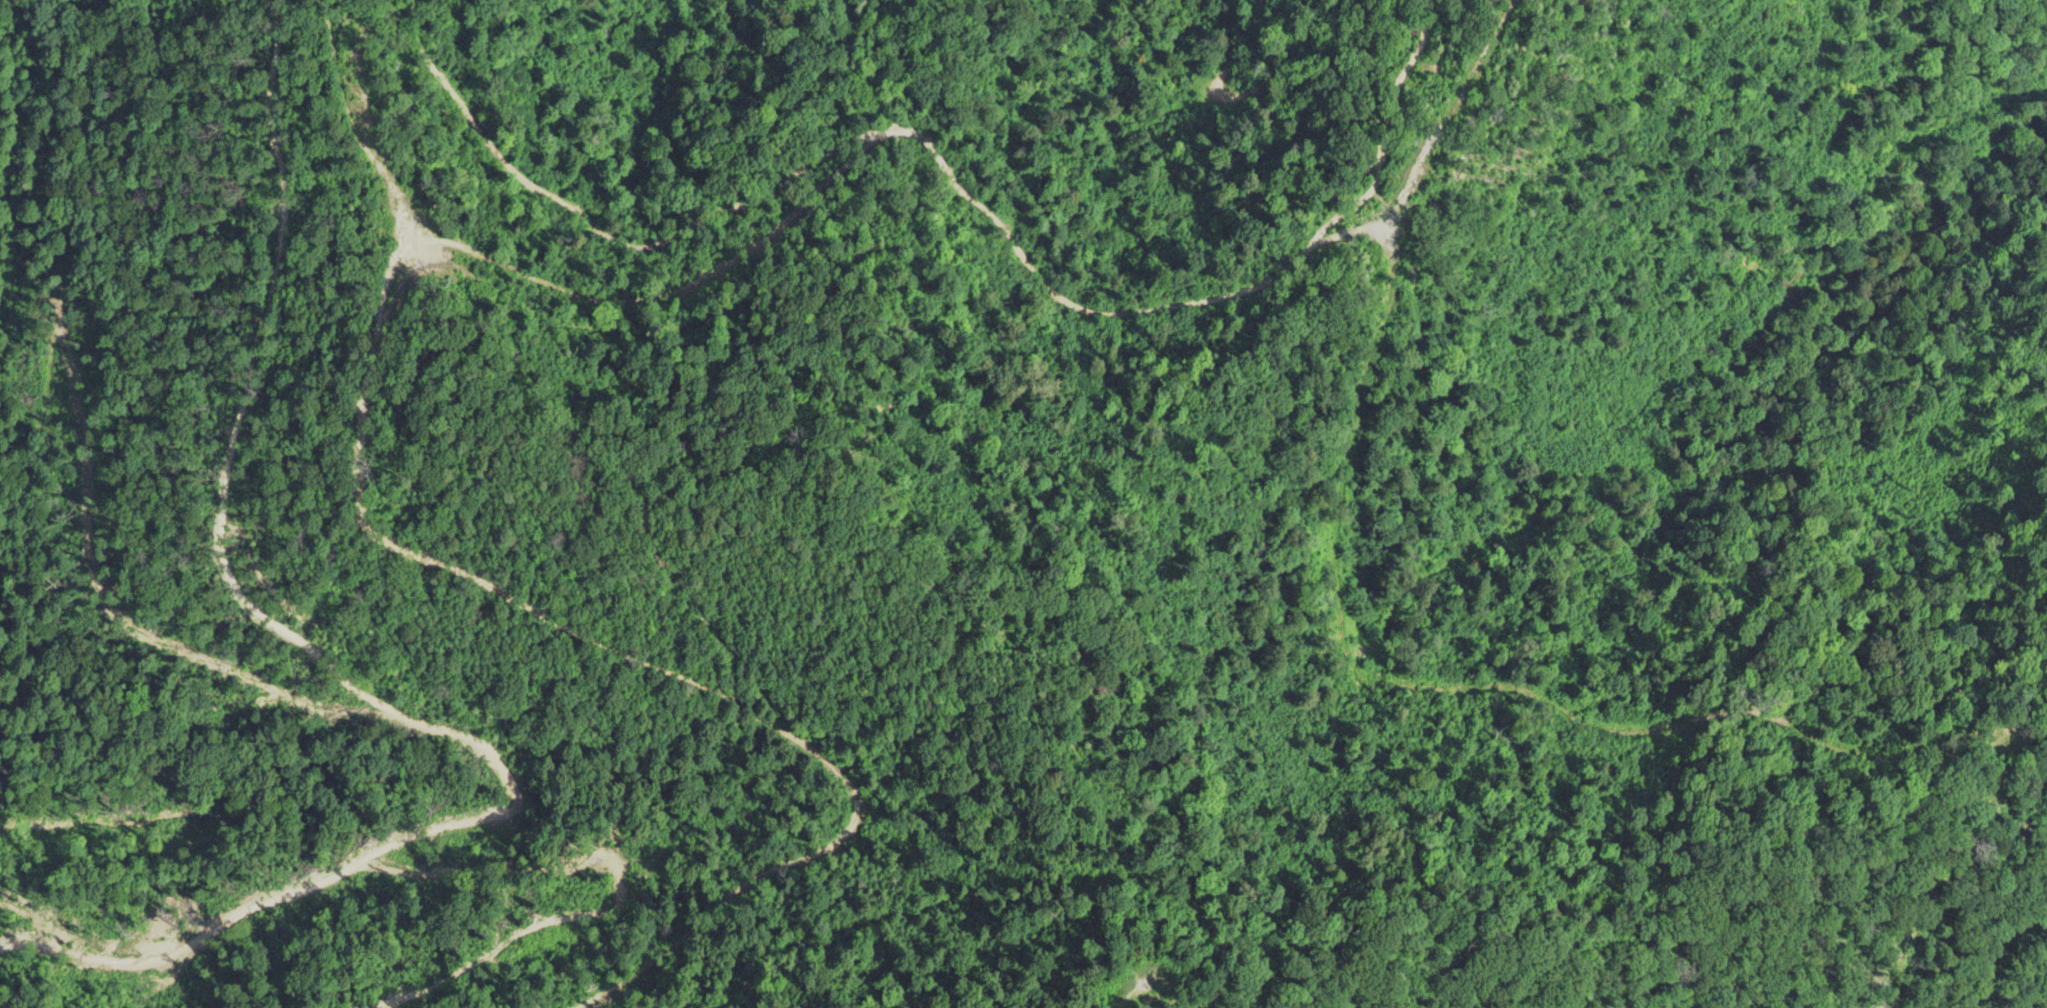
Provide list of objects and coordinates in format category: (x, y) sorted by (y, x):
road: (6, 141)
road: (975, 180)
road: (636, 777)

